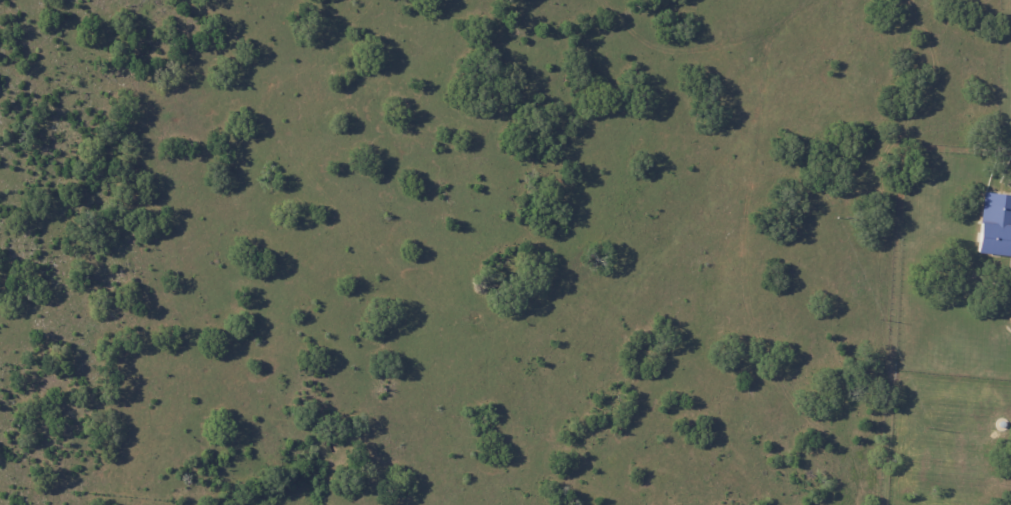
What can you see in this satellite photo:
building: (996, 225)

